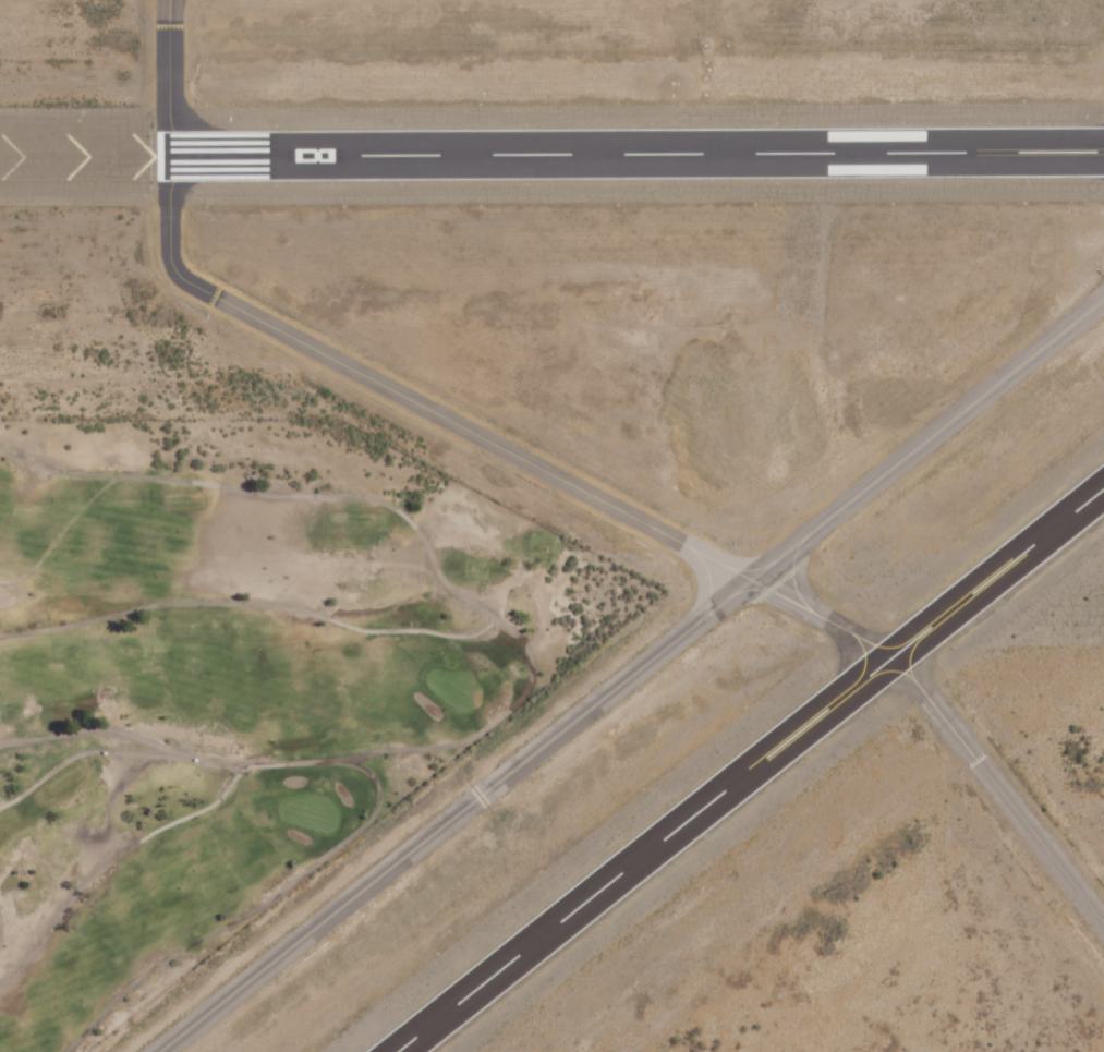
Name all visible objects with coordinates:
airport taxiway: (167, 75)
airport runway: (635, 153)
airport taxiway: (628, 522)
airport taxiway: (631, 675)
park: (235, 677)
airport runway: (749, 769)

